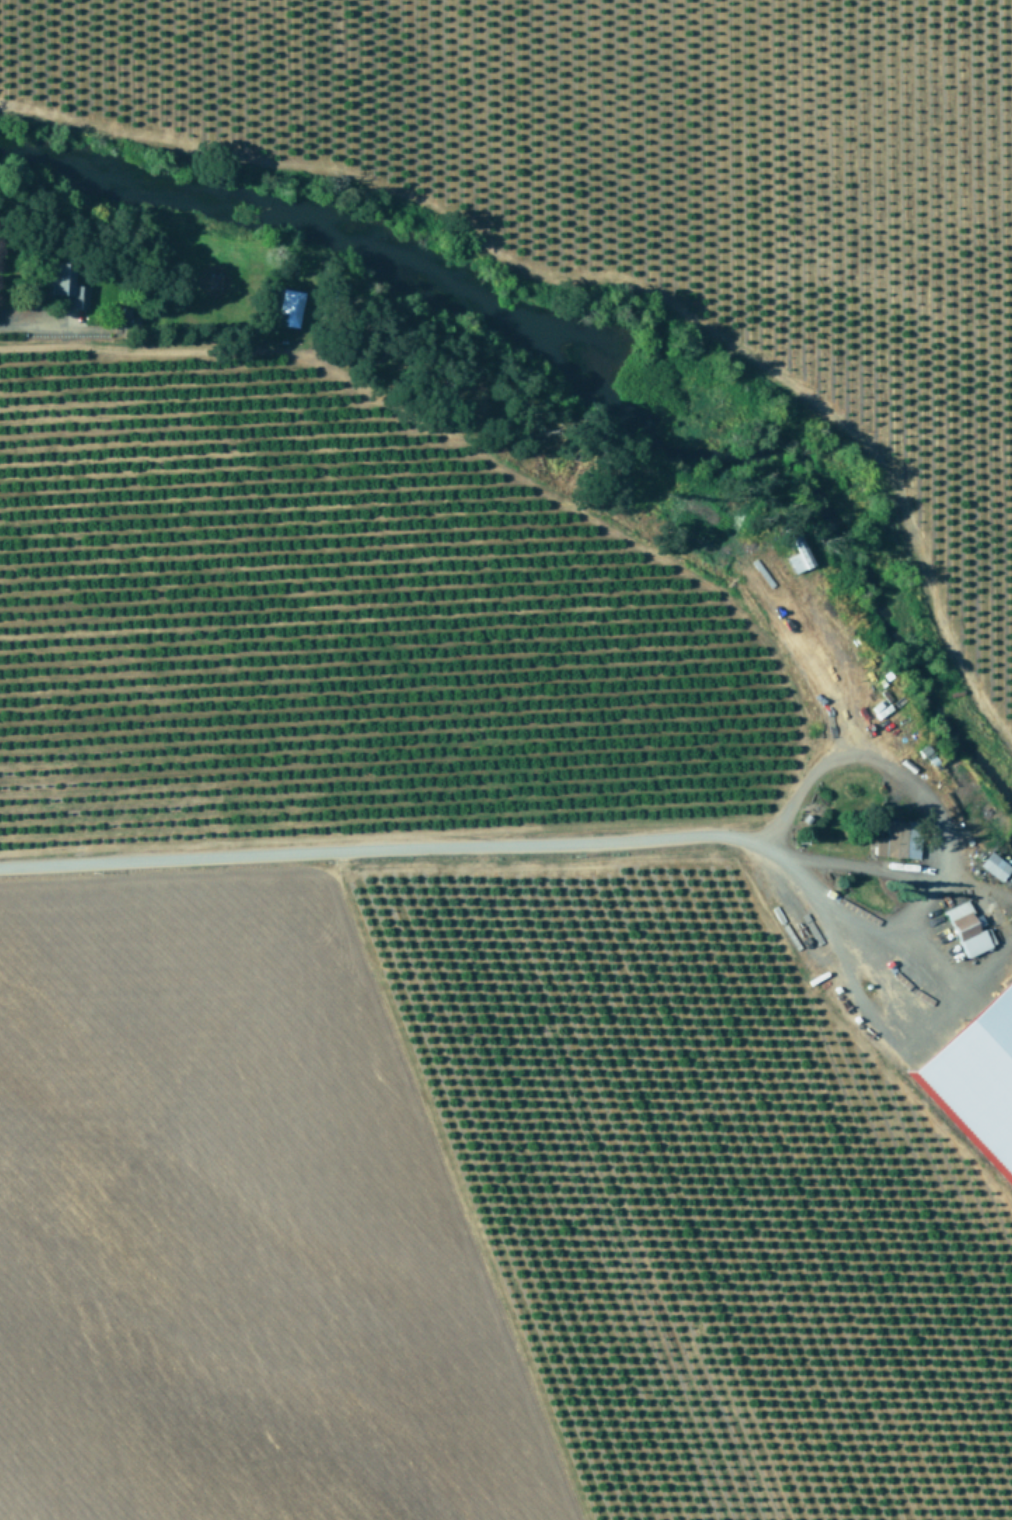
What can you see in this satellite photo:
crop: (664, 179)
building: (56, 279)
building: (77, 297)
building: (897, 841)
road: (452, 850)
building: (966, 930)
crop: (457, 1007)
building: (976, 1074)

